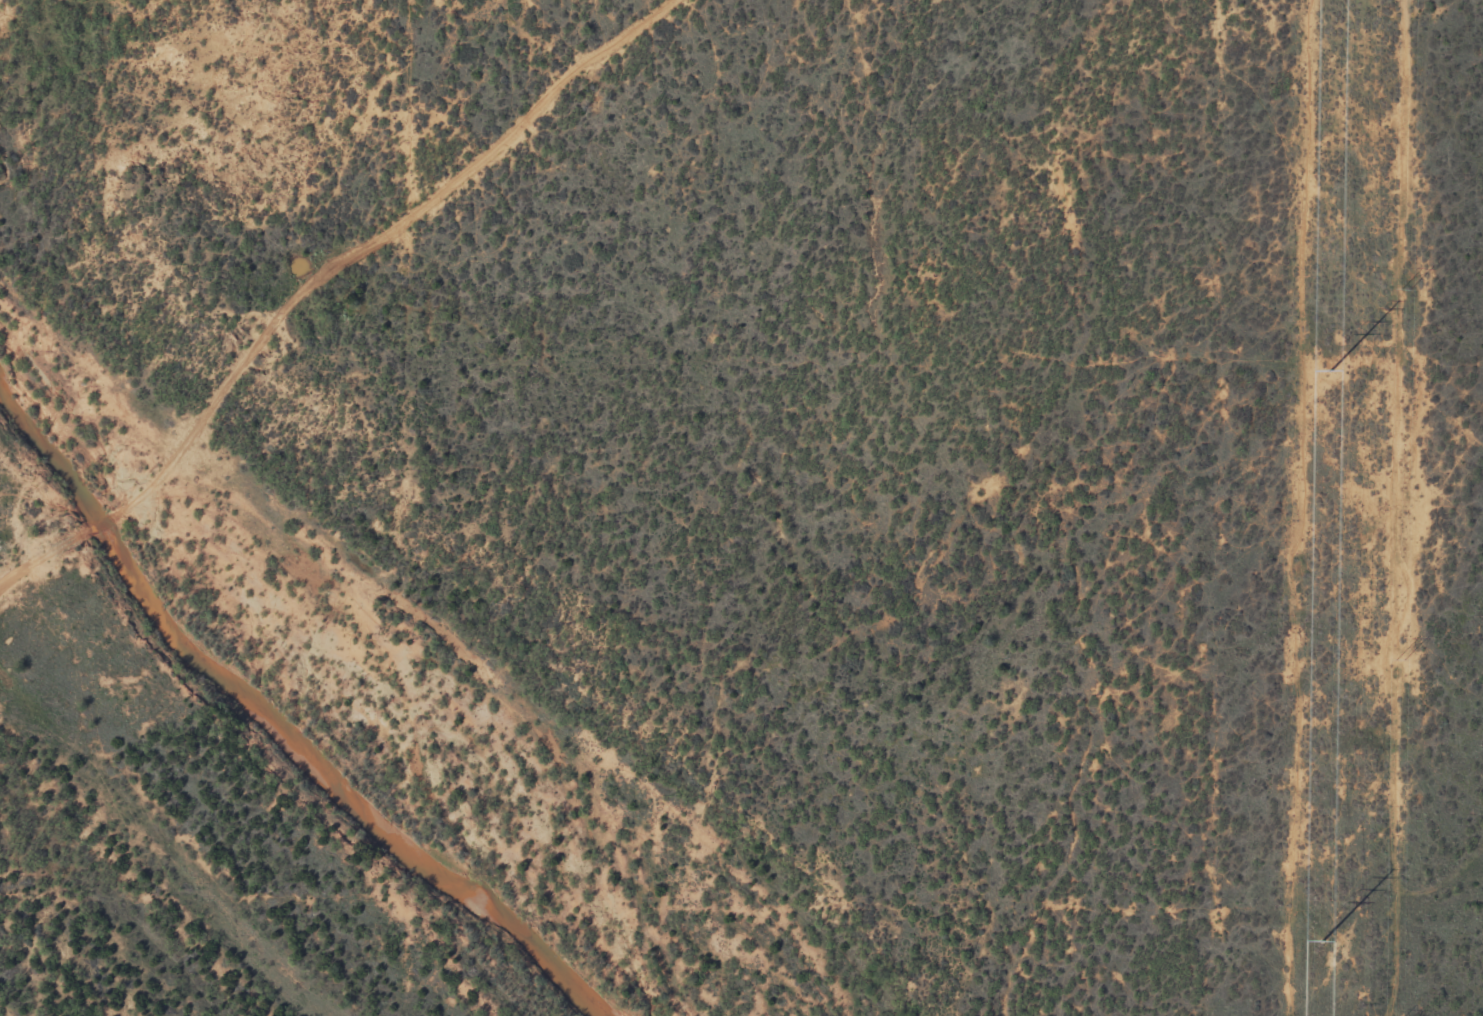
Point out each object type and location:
road: (372, 243)
power tower: (1405, 287)
power tower: (1331, 371)
road: (48, 552)
power tower: (1400, 658)
river: (281, 722)
power tower: (1322, 941)

